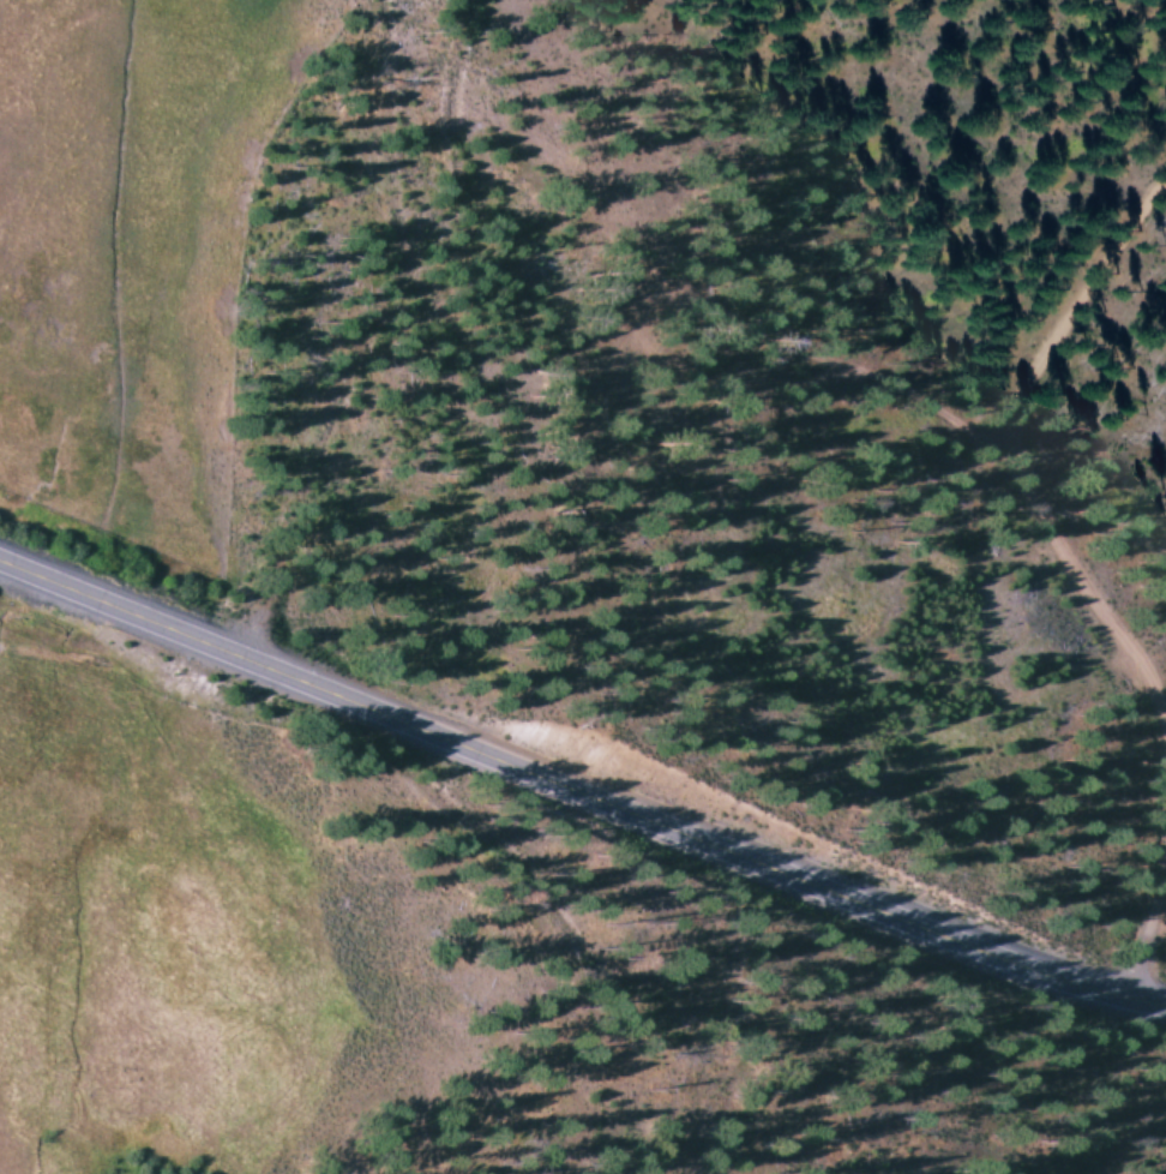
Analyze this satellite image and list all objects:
road: (902, 395)
road: (1012, 455)
road: (5, 553)
road: (583, 790)
road: (1149, 935)

